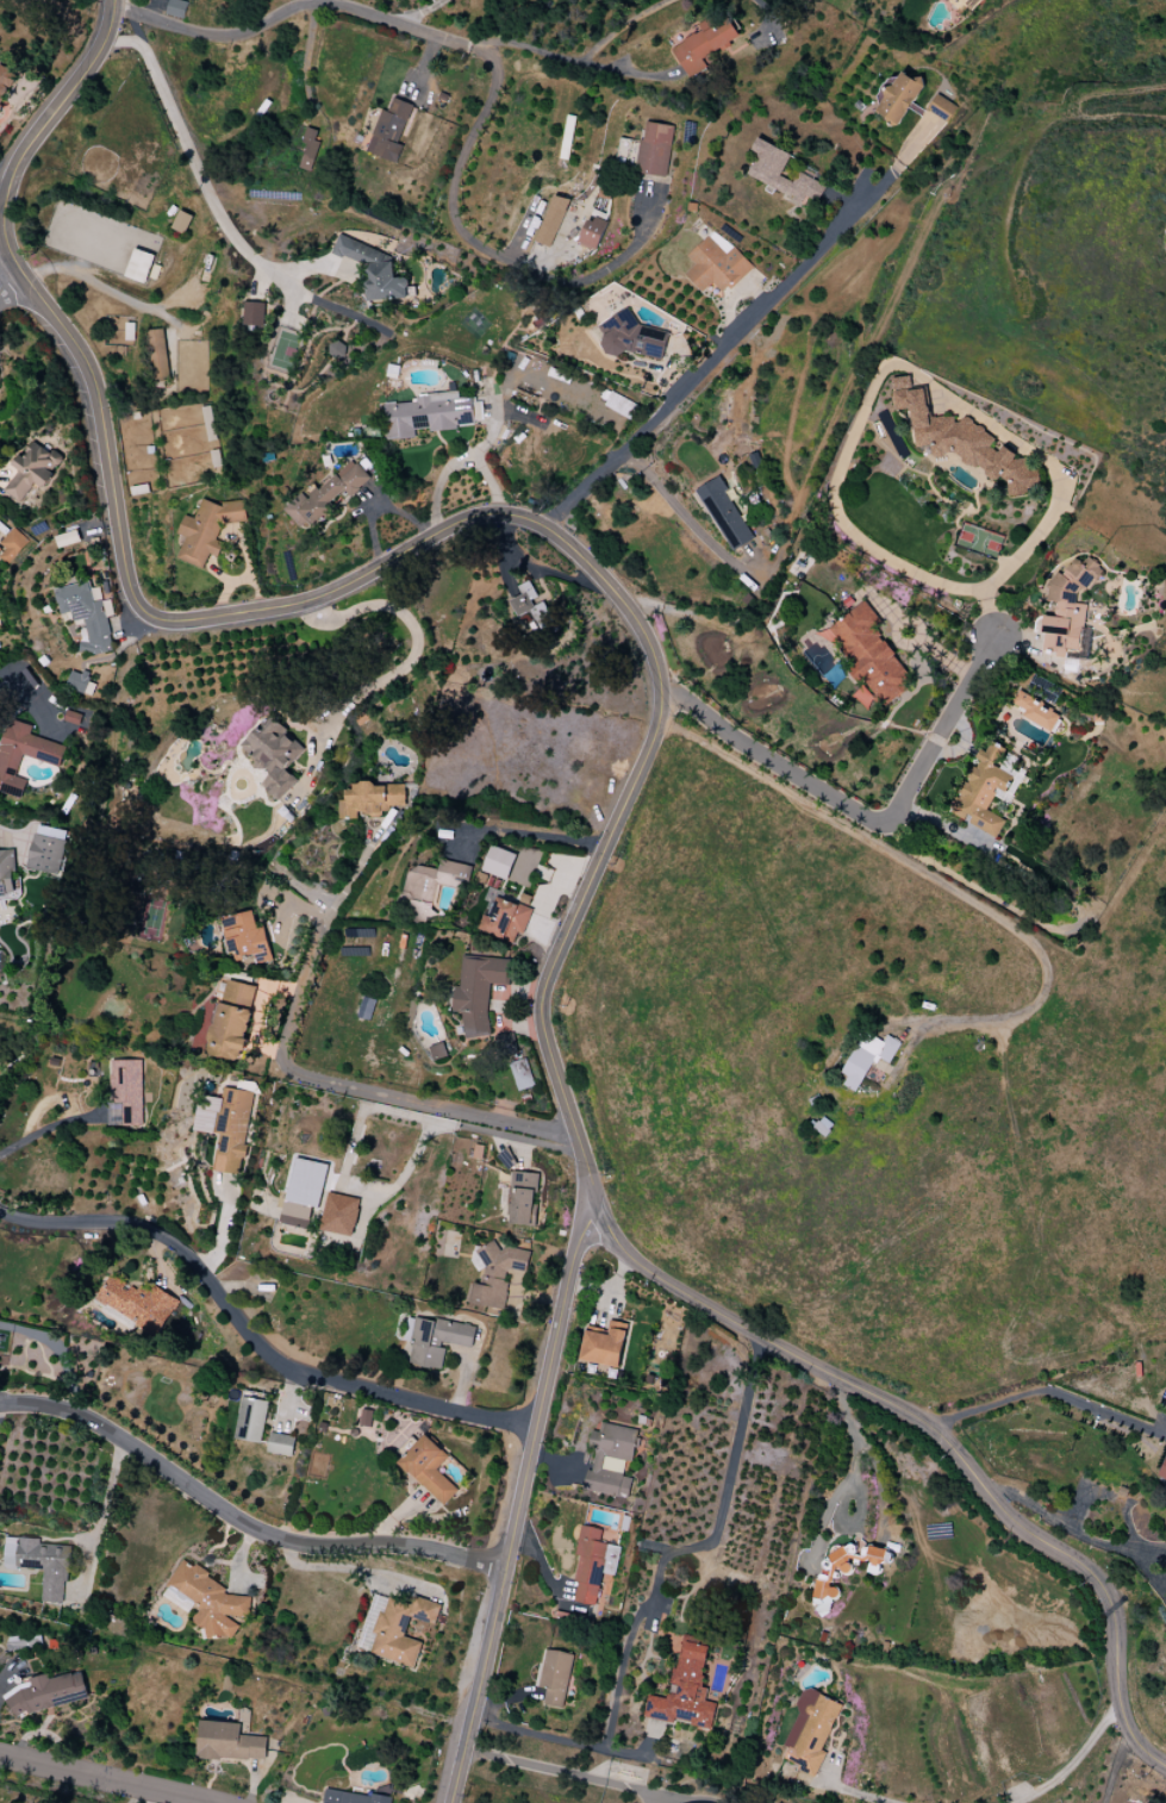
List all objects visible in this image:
building: (969, 4)
building: (176, 8)
road: (292, 8)
road: (767, 19)
road: (621, 29)
building: (704, 44)
road: (568, 57)
building: (5, 79)
road: (1141, 89)
building: (899, 98)
building: (941, 107)
building: (388, 131)
building: (308, 150)
building: (654, 150)
building: (780, 173)
road: (202, 180)
road: (2, 193)
road: (453, 208)
building: (551, 220)
building: (181, 222)
building: (591, 233)
building: (716, 264)
building: (139, 266)
building: (374, 269)
road: (10, 281)
road: (101, 285)
building: (254, 316)
building: (630, 337)
building: (158, 355)
road: (698, 373)
building: (621, 405)
building: (425, 414)
building: (961, 441)
building: (32, 470)
building: (326, 495)
road: (686, 514)
building: (724, 514)
building: (207, 530)
building: (12, 545)
building: (530, 605)
building: (1068, 611)
building: (86, 616)
building: (868, 654)
road: (391, 675)
building: (80, 682)
road: (33, 687)
building: (1036, 712)
road: (656, 729)
building: (24, 755)
building: (273, 755)
building: (983, 792)
building: (372, 799)
road: (867, 821)
road: (529, 834)
building: (49, 850)
building: (499, 862)
building: (7, 873)
road: (925, 874)
building: (430, 887)
building: (506, 917)
building: (247, 937)
building: (478, 991)
building: (232, 1021)
building: (505, 1043)
building: (438, 1052)
building: (867, 1058)
building: (520, 1074)
building: (127, 1090)
road: (354, 1091)
building: (227, 1128)
road: (50, 1129)
building: (304, 1192)
building: (522, 1198)
building: (339, 1214)
building: (495, 1273)
building: (137, 1303)
road: (251, 1337)
building: (604, 1346)
road: (1048, 1386)
building: (1165, 1403)
road: (1108, 1409)
building: (251, 1420)
building: (281, 1445)
building: (610, 1460)
building: (428, 1468)
building: (1162, 1470)
road: (843, 1493)
road: (1103, 1497)
road: (110, 1499)
road: (519, 1503)
road: (239, 1520)
building: (39, 1564)
building: (593, 1565)
building: (846, 1566)
road: (350, 1570)
road: (1147, 1571)
road: (651, 1592)
building: (210, 1601)
building: (401, 1629)
building: (555, 1677)
building: (685, 1689)
building: (46, 1693)
building: (810, 1732)
building: (229, 1742)
road: (1075, 1761)
road: (1116, 1767)
road: (562, 1772)
road: (104, 1779)
road: (858, 1793)
building: (351, 1797)
road: (699, 1801)

